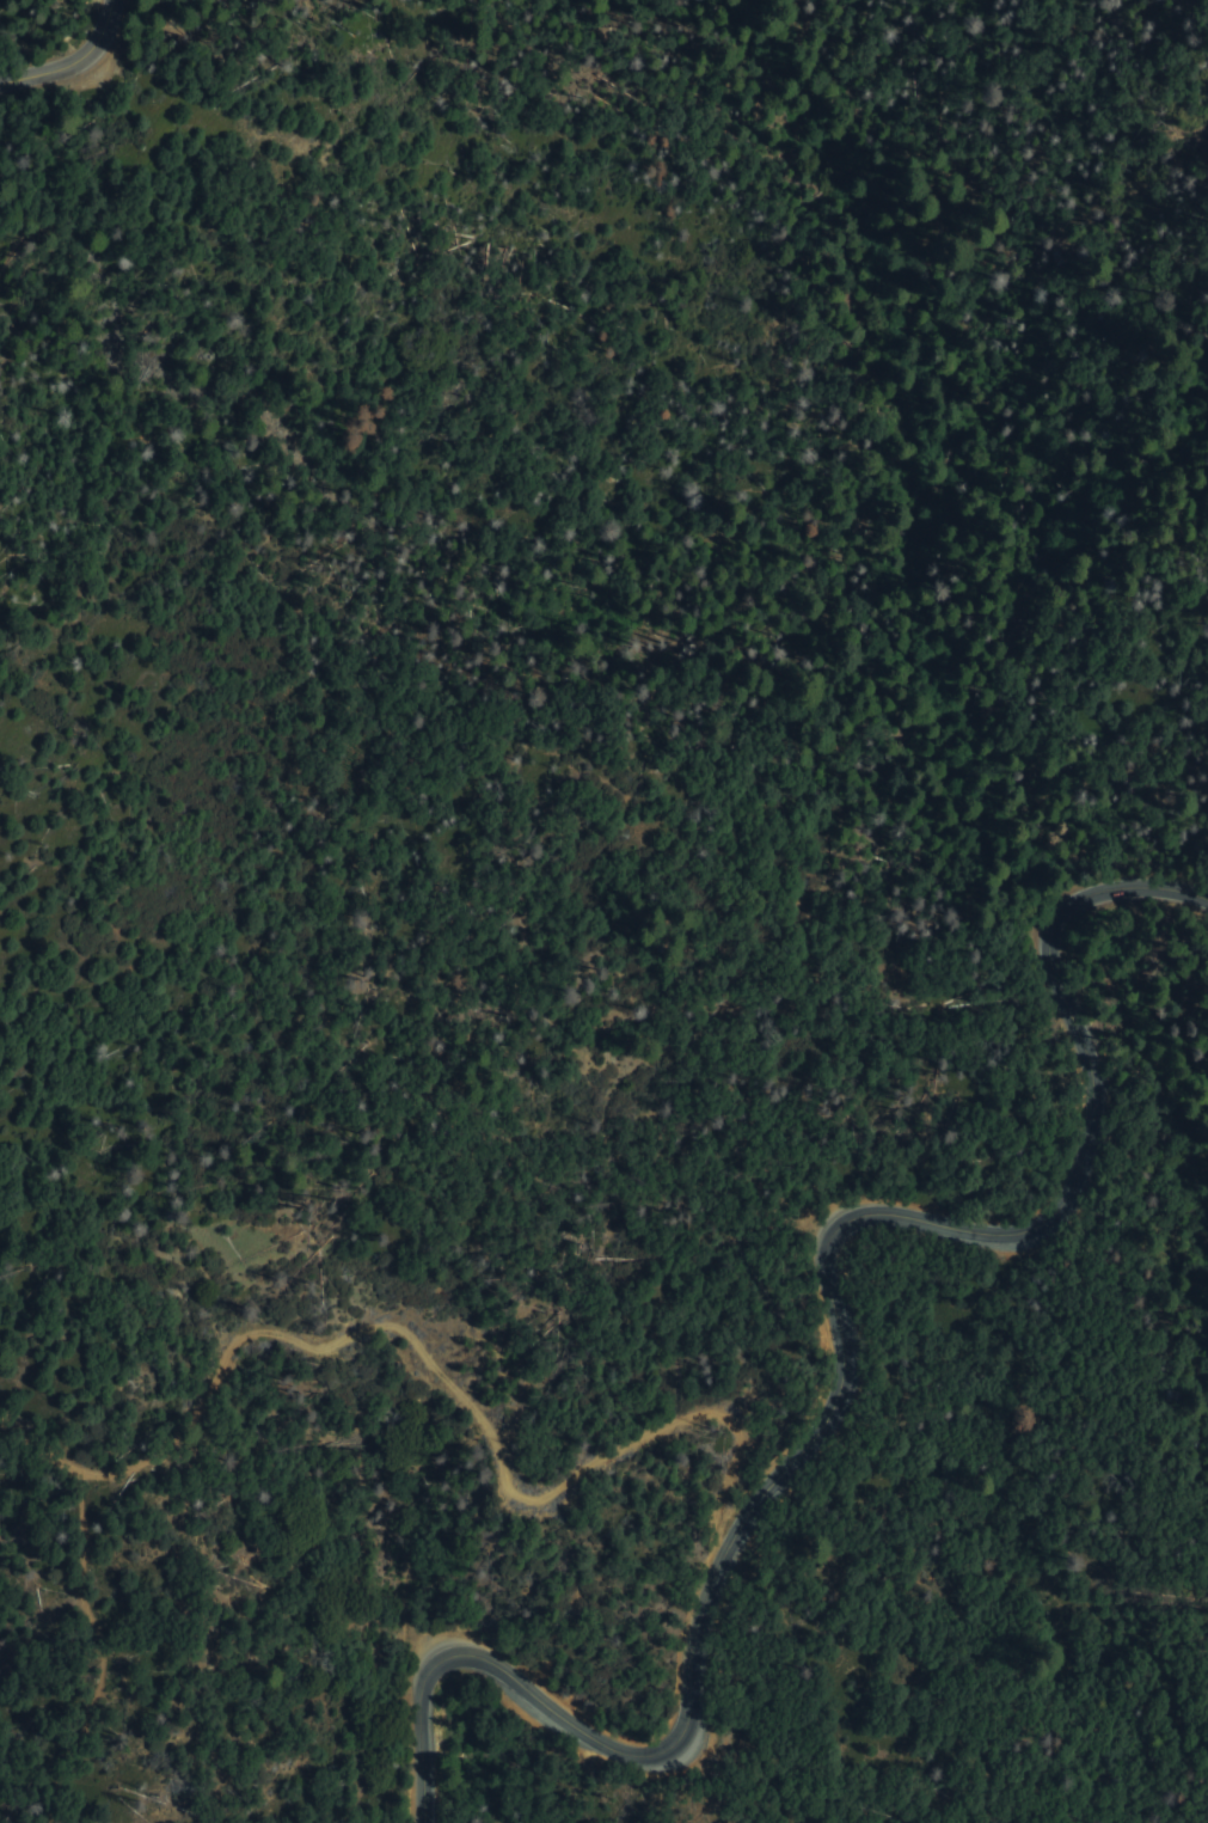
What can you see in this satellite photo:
road: (72, 61)
road: (441, 1369)
road: (839, 1369)

